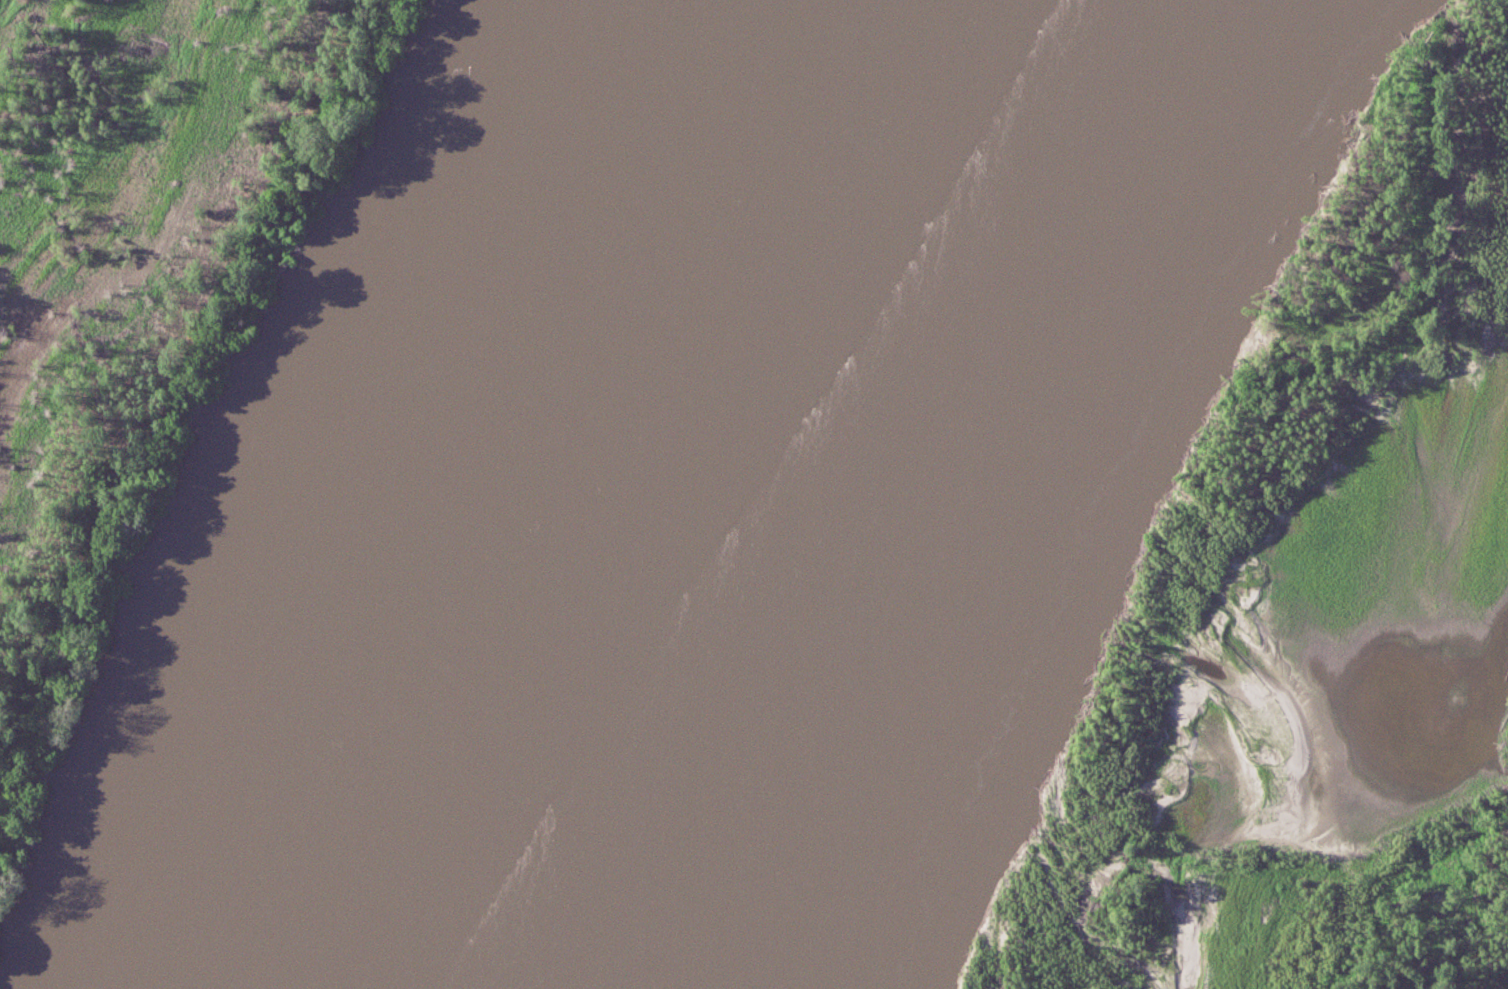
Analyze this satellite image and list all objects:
river: (491, 491)

